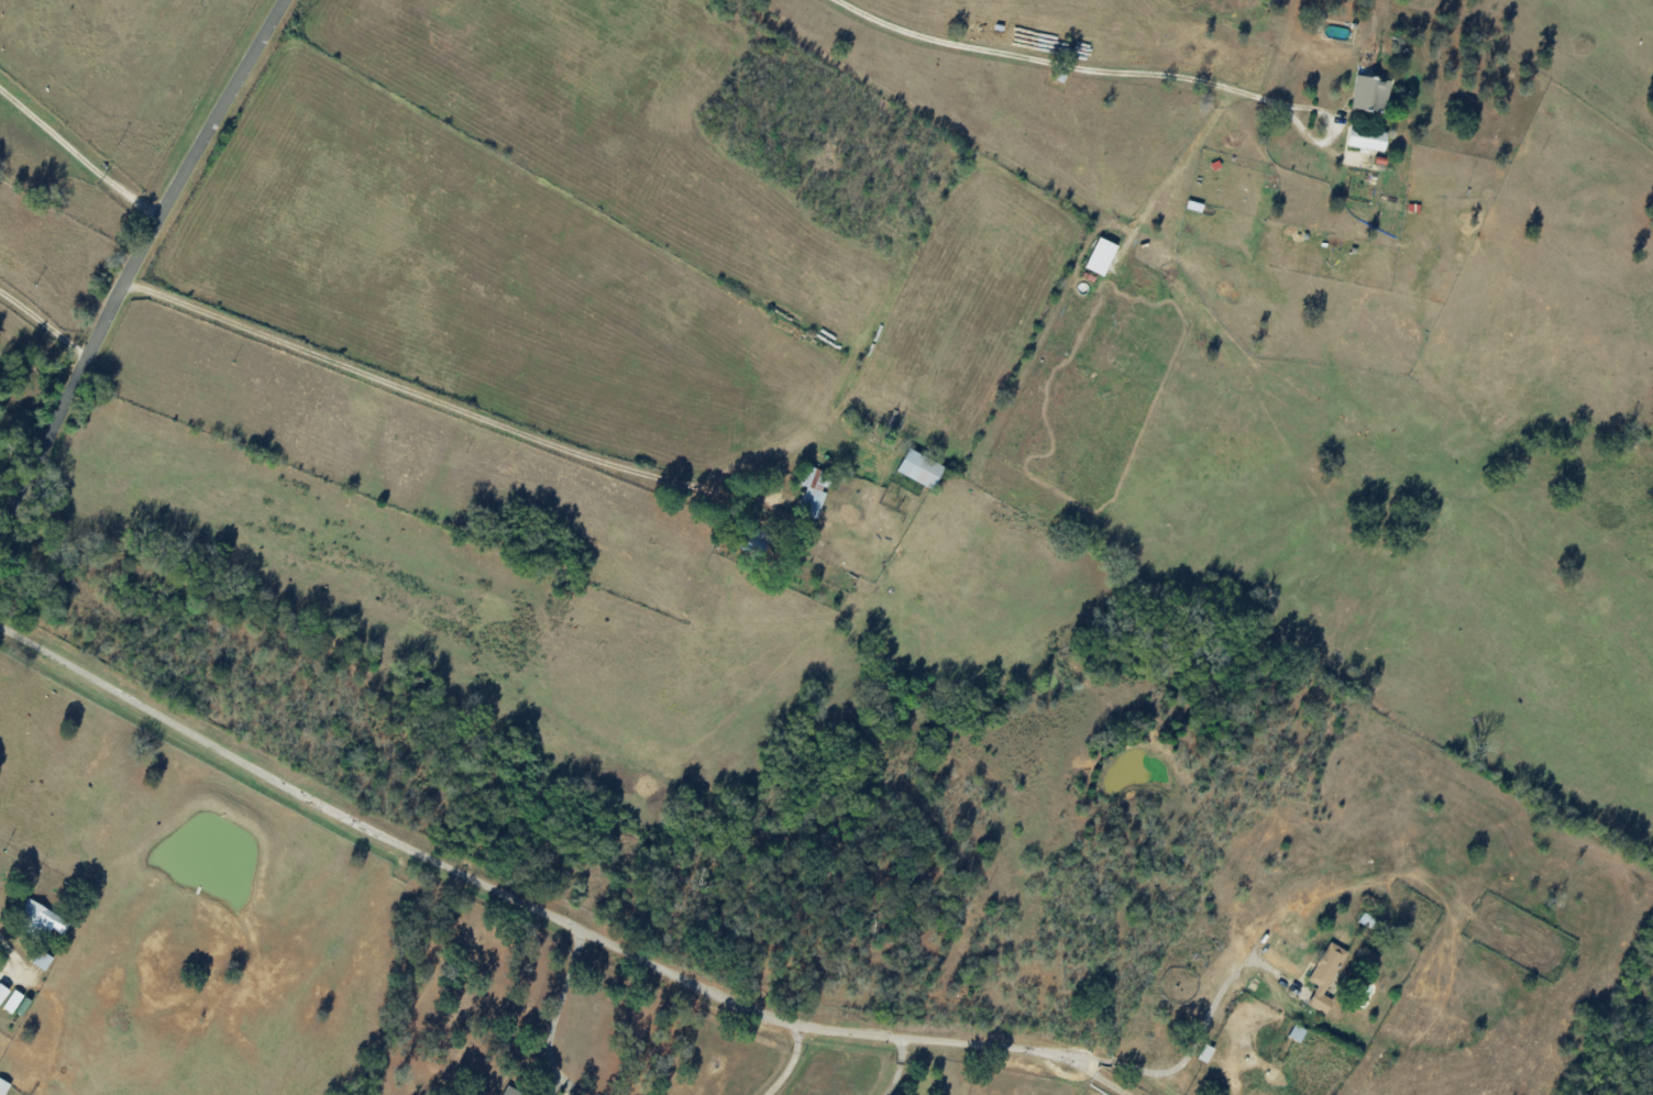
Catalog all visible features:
road: (1068, 65)
building: (1370, 93)
road: (1345, 133)
building: (1367, 139)
road: (76, 165)
building: (1101, 256)
road: (134, 263)
road: (45, 317)
road: (443, 414)
building: (921, 468)
building: (812, 493)
road: (547, 915)
building: (44, 917)
road: (12, 949)
building: (43, 960)
building: (1325, 975)
building: (3, 992)
road: (560, 999)
building: (16, 1002)
building: (1298, 1032)
road: (1198, 1041)
road: (791, 1062)
building: (3, 1086)
building: (511, 1091)

